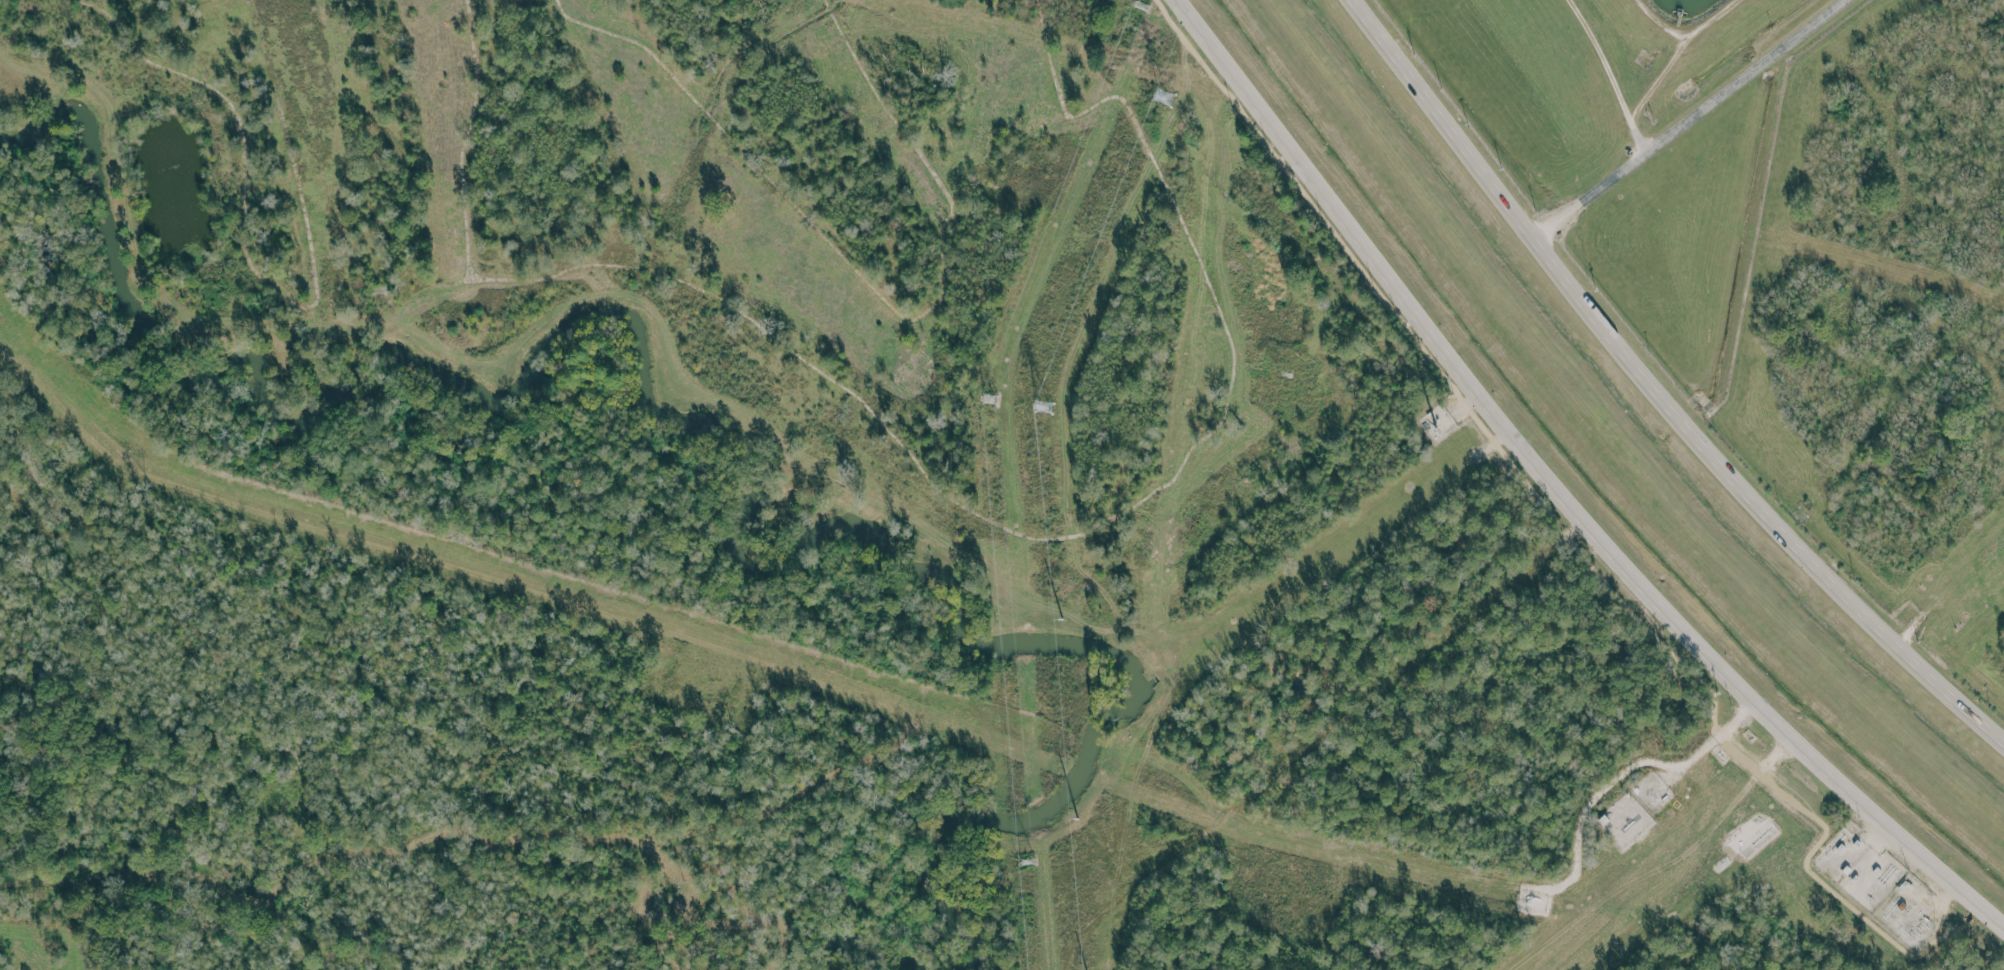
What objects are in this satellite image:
power tower: (1143, 5)
road: (1608, 74)
road: (1687, 118)
road: (1654, 392)
power tower: (988, 399)
power tower: (1042, 408)
river: (718, 455)
road: (1559, 488)
road: (1566, 536)
road: (1337, 718)
road: (1624, 768)
power tower: (1025, 859)
road: (1940, 922)

